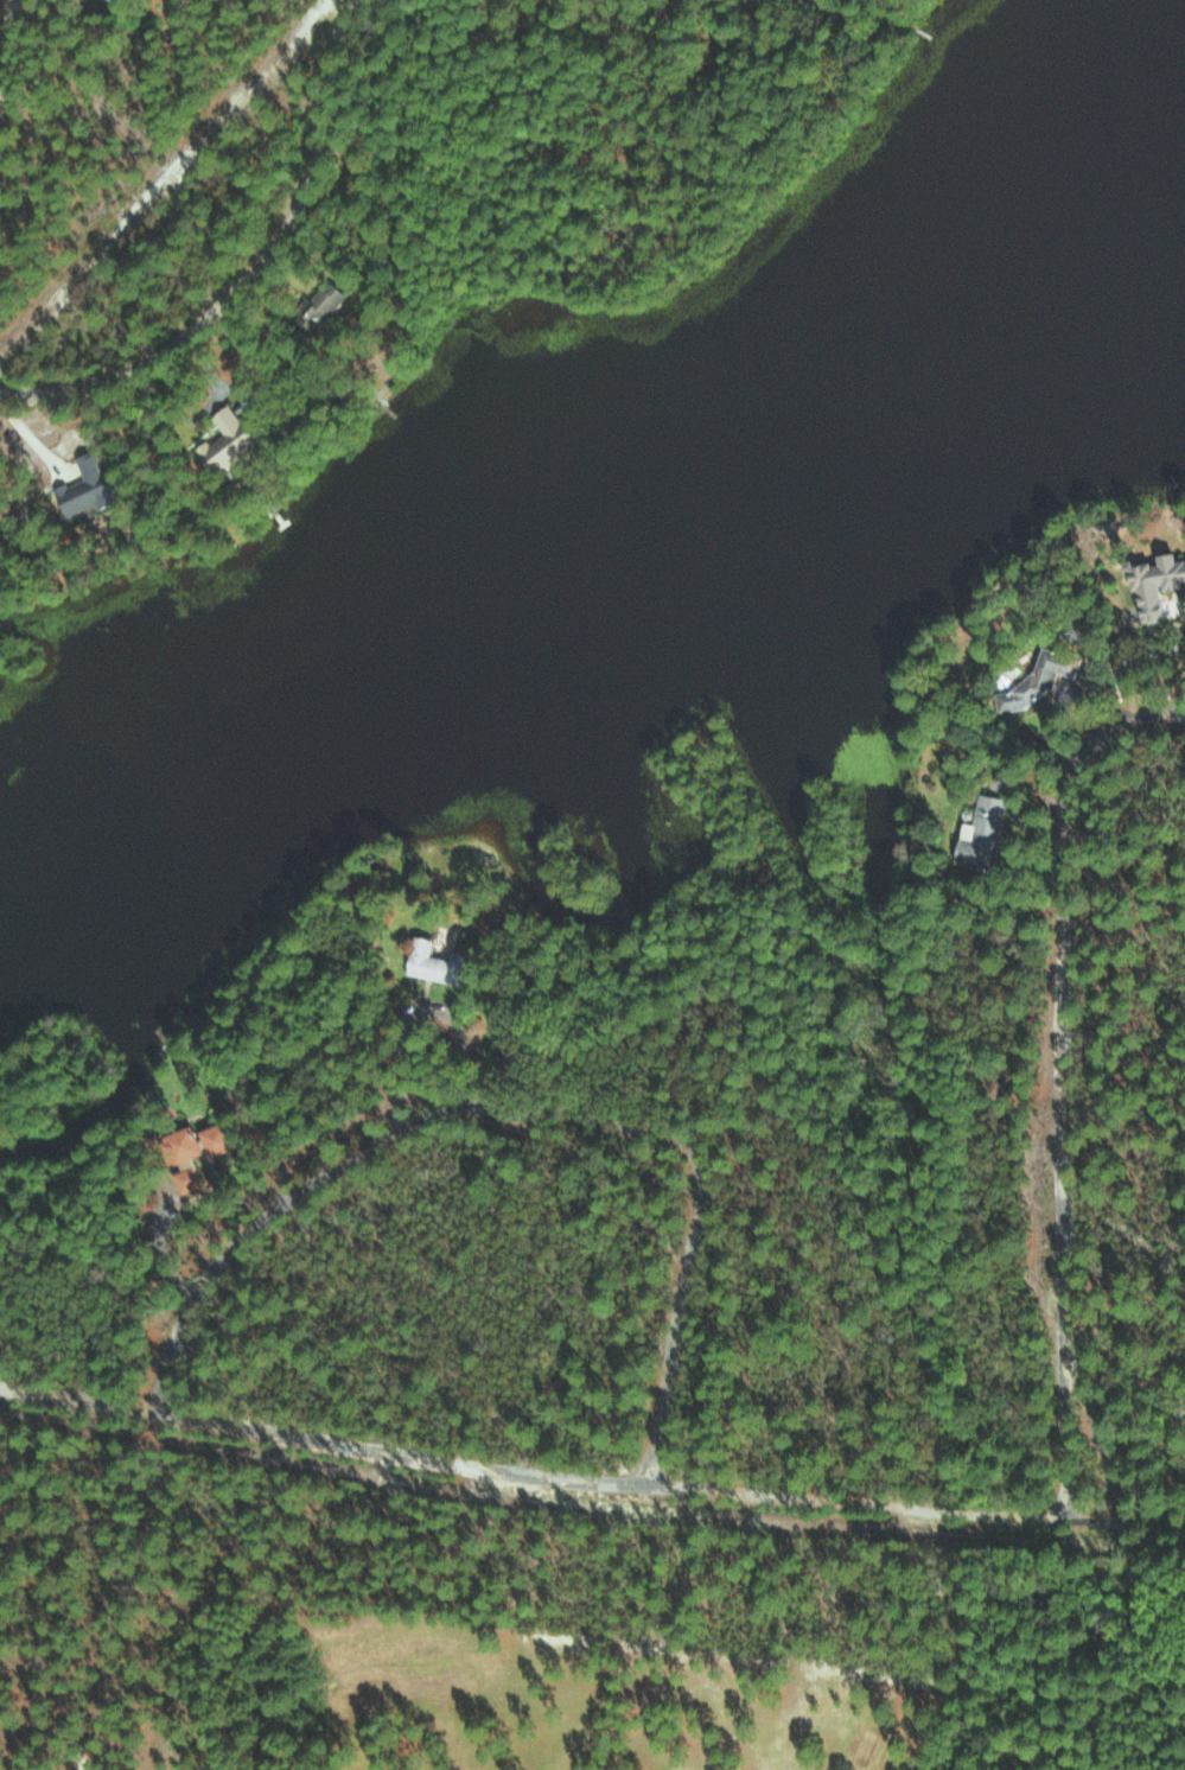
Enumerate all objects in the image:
road: (7, 61)
road: (257, 275)
building: (325, 306)
building: (232, 439)
building: (93, 484)
building: (1160, 585)
building: (1044, 679)
building: (985, 833)
building: (438, 962)
road: (1062, 1082)
road: (521, 1115)
building: (224, 1139)
building: (190, 1144)
road: (590, 1483)

